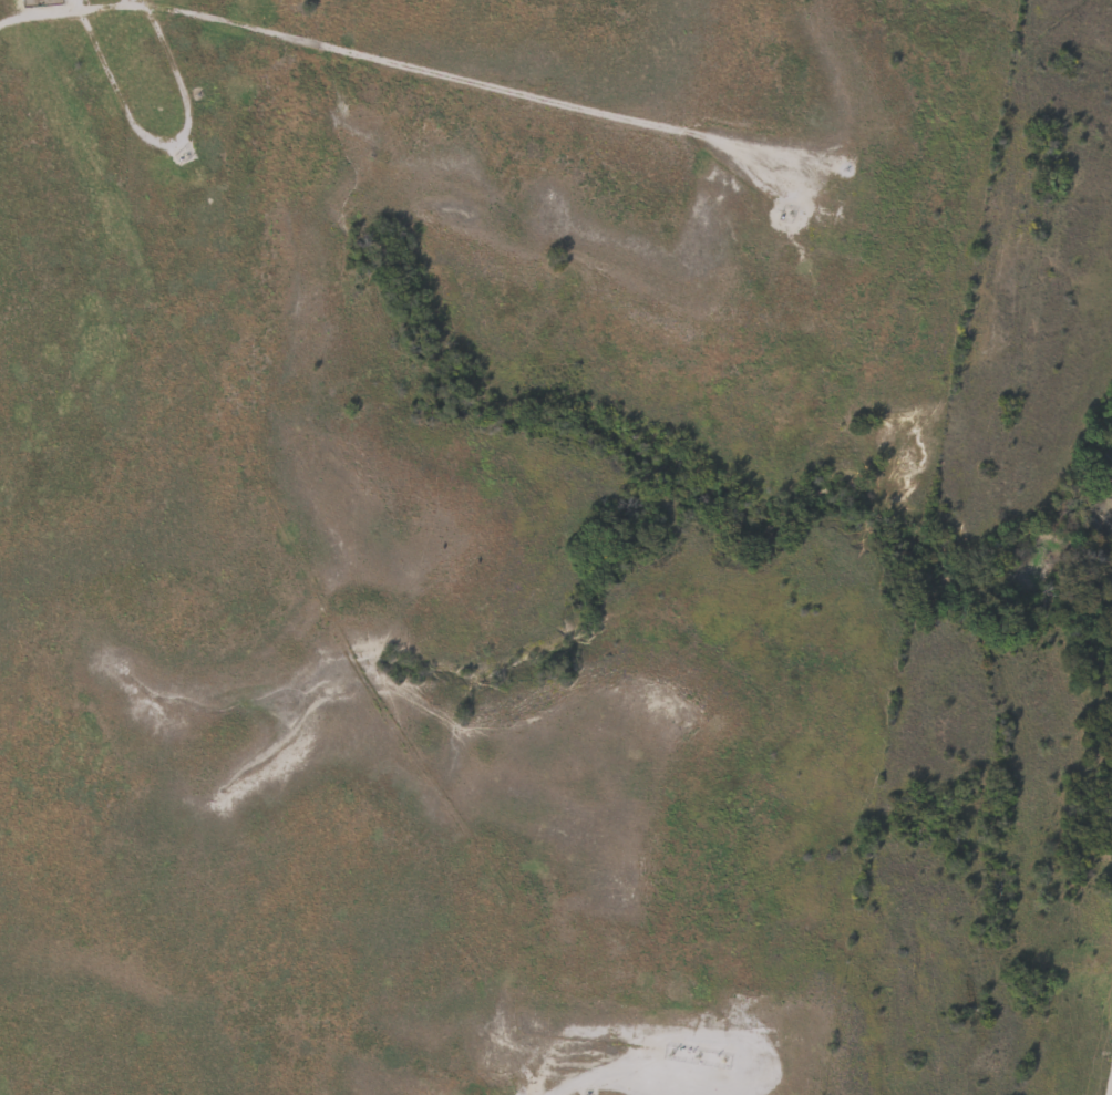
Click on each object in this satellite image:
road: (128, 3)
road: (73, 6)
road: (85, 9)
road: (482, 85)
road: (159, 143)
road: (1110, 1091)

